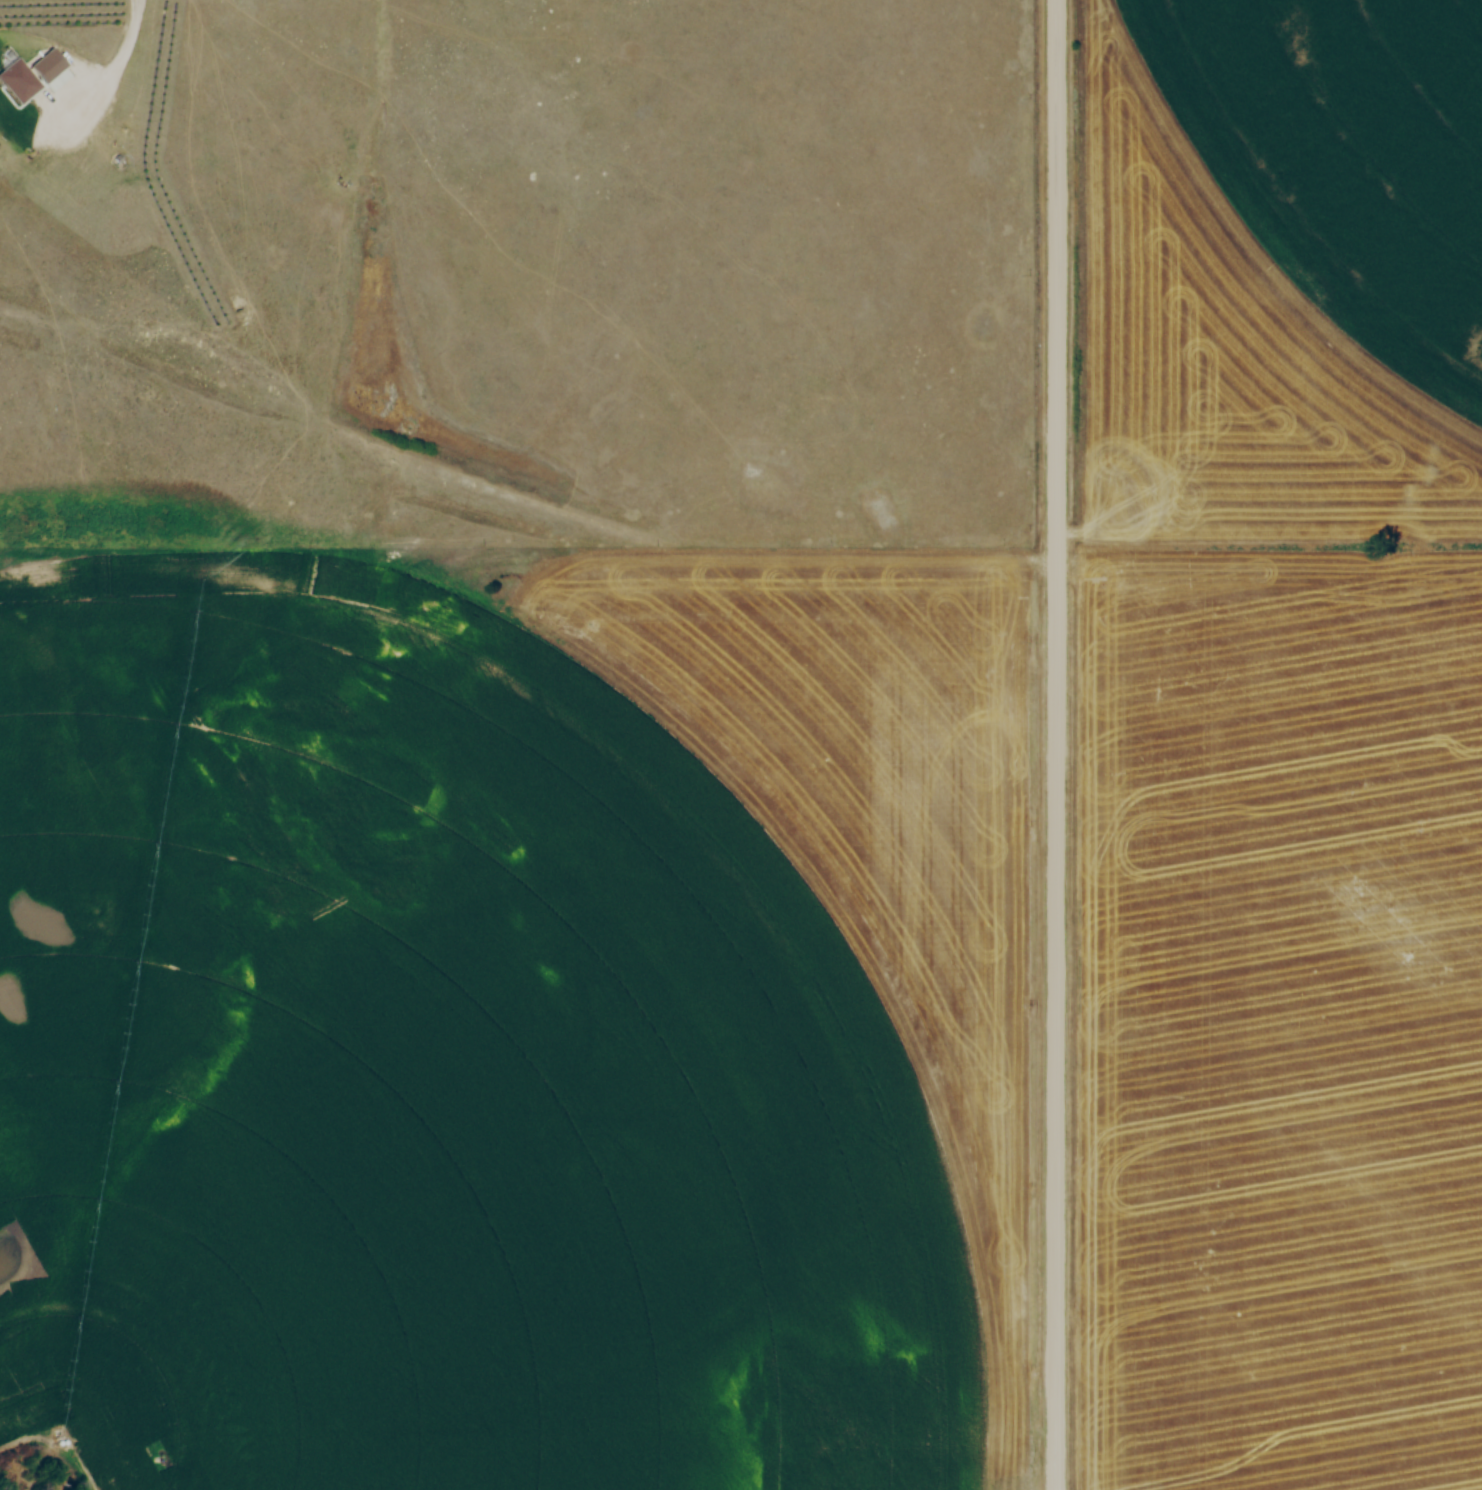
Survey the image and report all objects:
road: (1058, 744)

